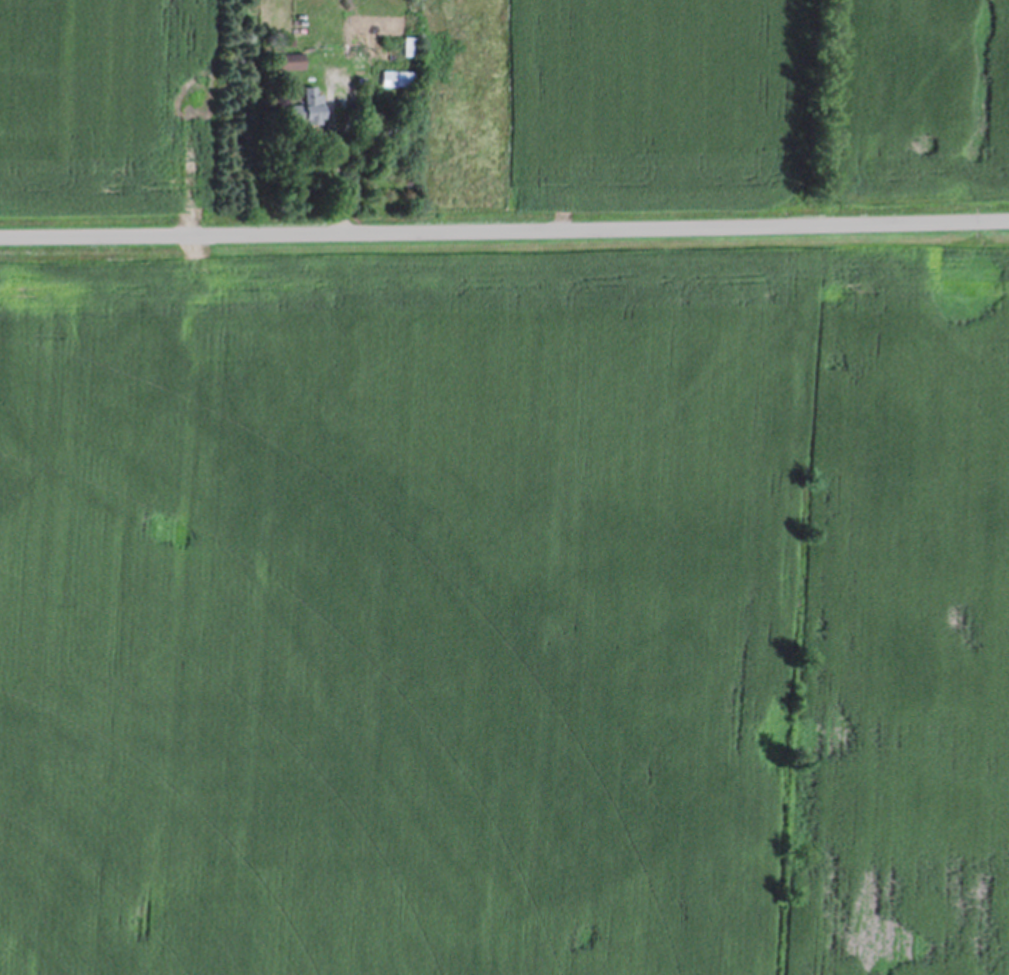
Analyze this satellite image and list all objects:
building: (408, 43)
building: (288, 60)
building: (396, 76)
building: (306, 106)
road: (337, 158)
road: (504, 226)

